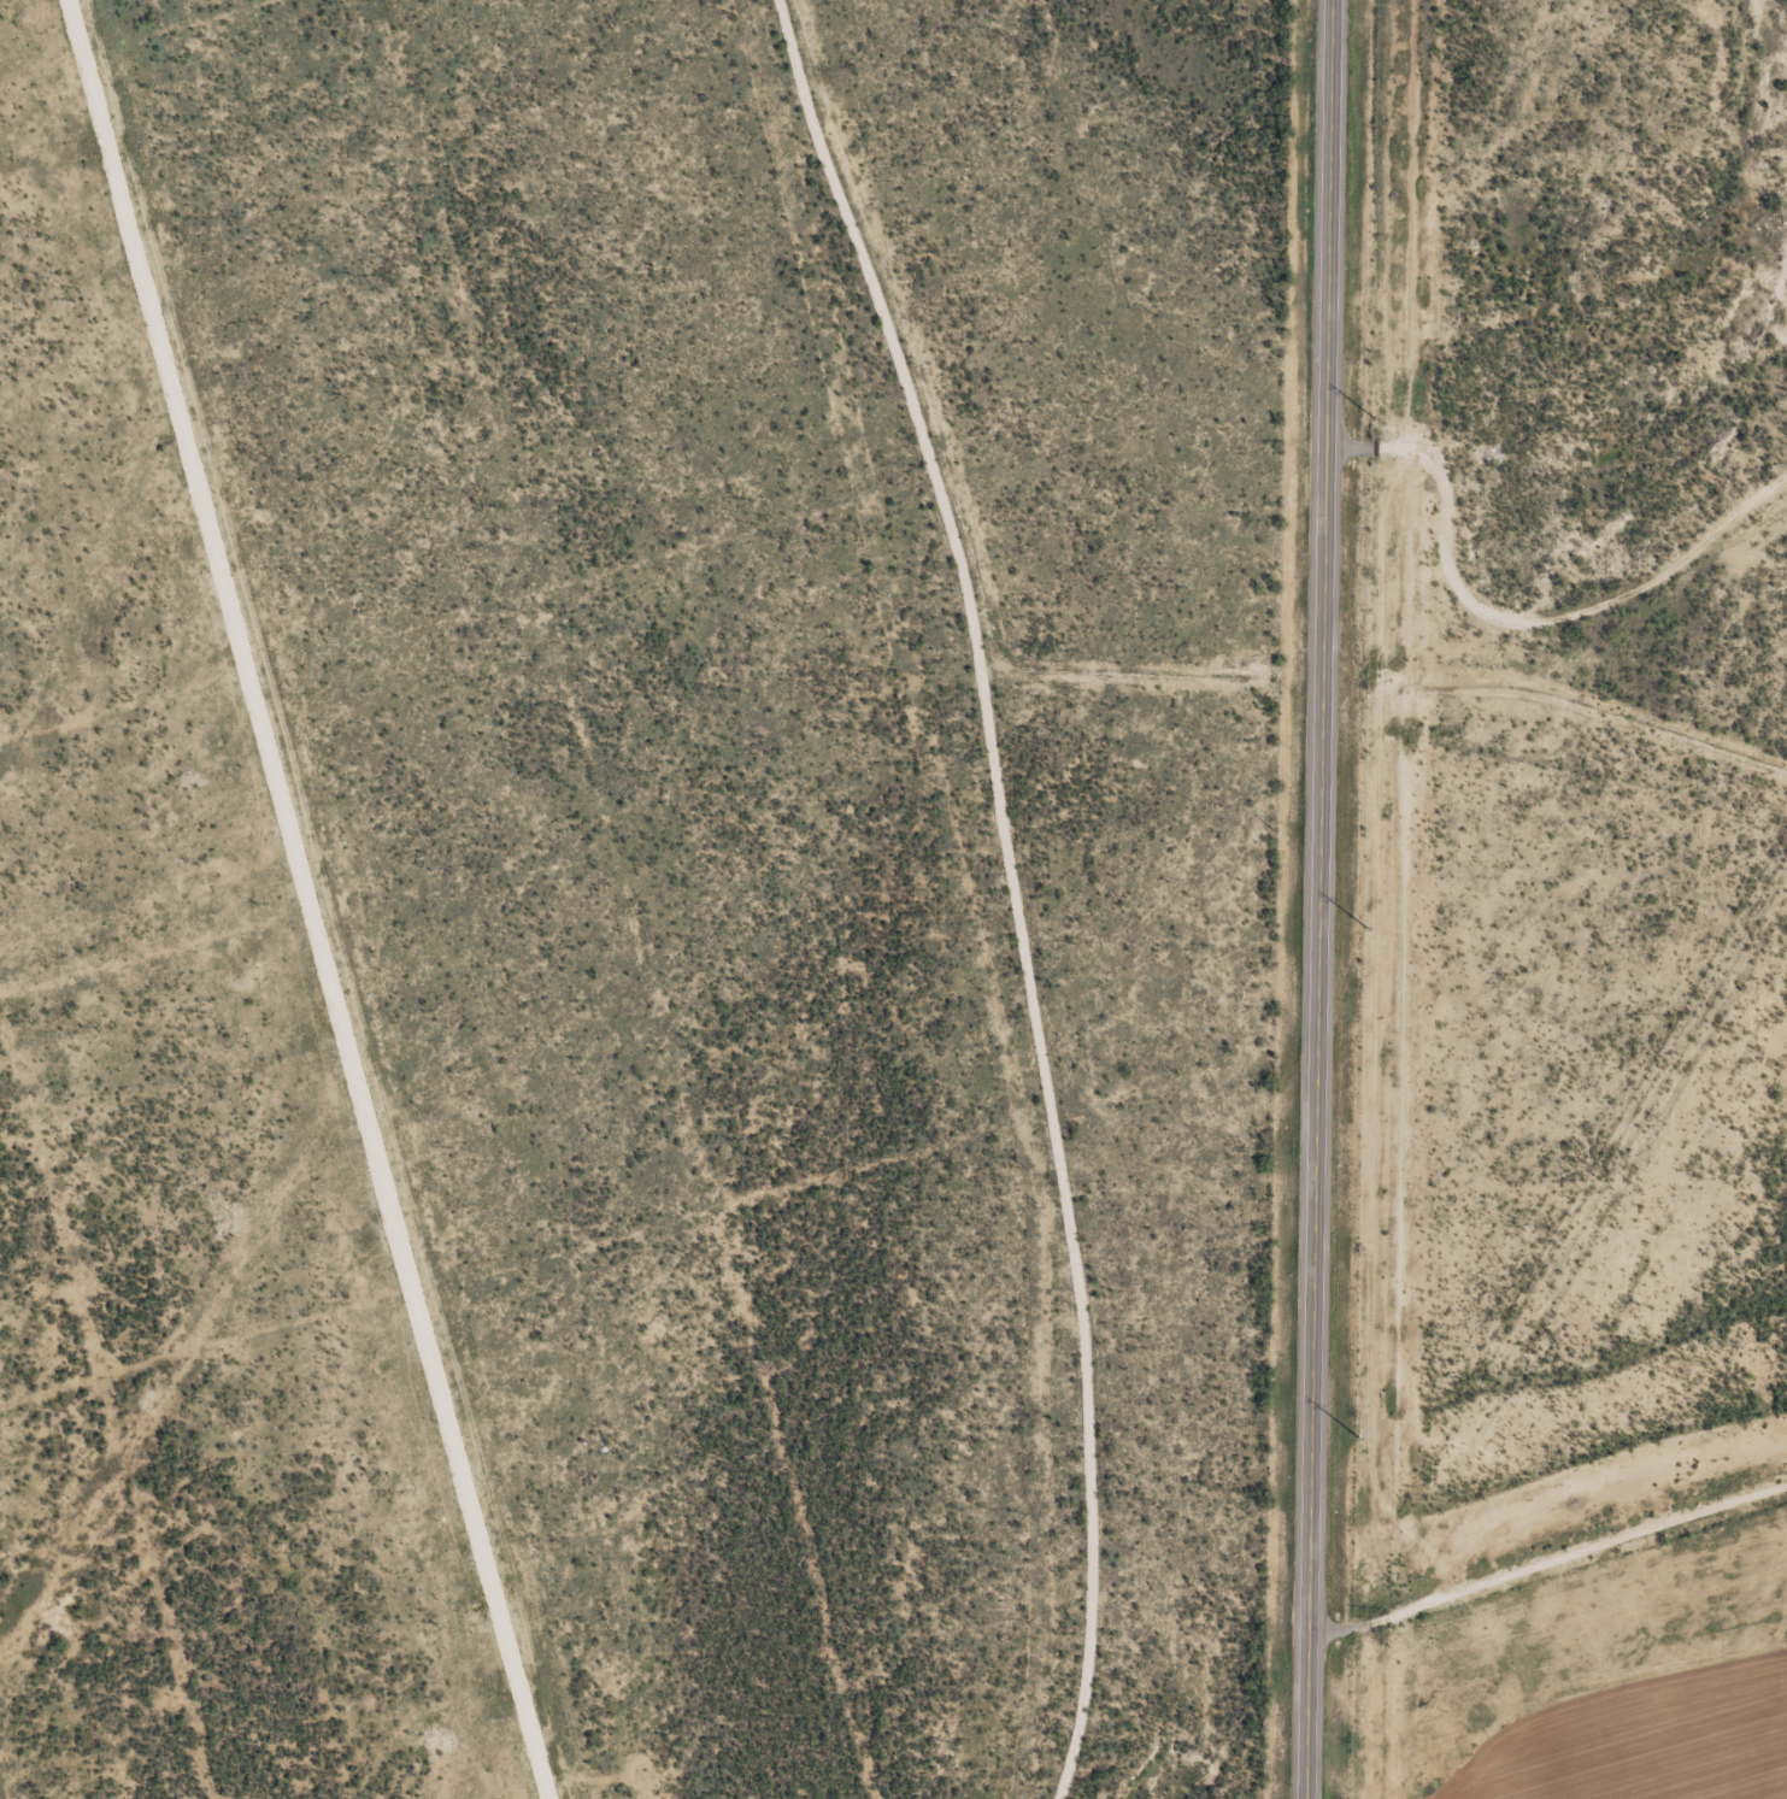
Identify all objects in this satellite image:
power tower: (1375, 418)
road: (1322, 899)
power tower: (1366, 929)
power tower: (1358, 1438)
road: (1538, 1595)

